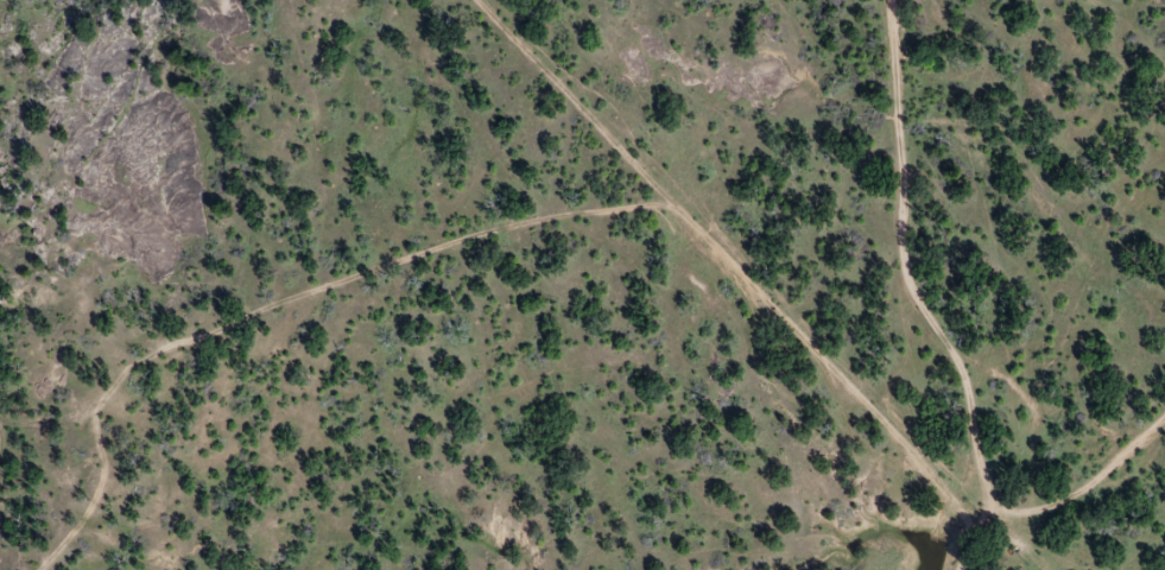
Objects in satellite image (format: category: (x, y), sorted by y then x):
road: (922, 296)
road: (1087, 487)

